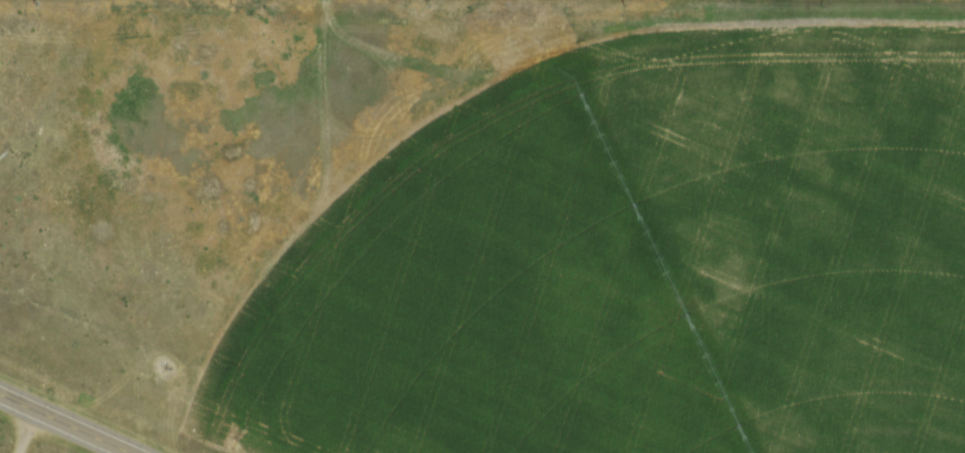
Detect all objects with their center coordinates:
road: (63, 424)

